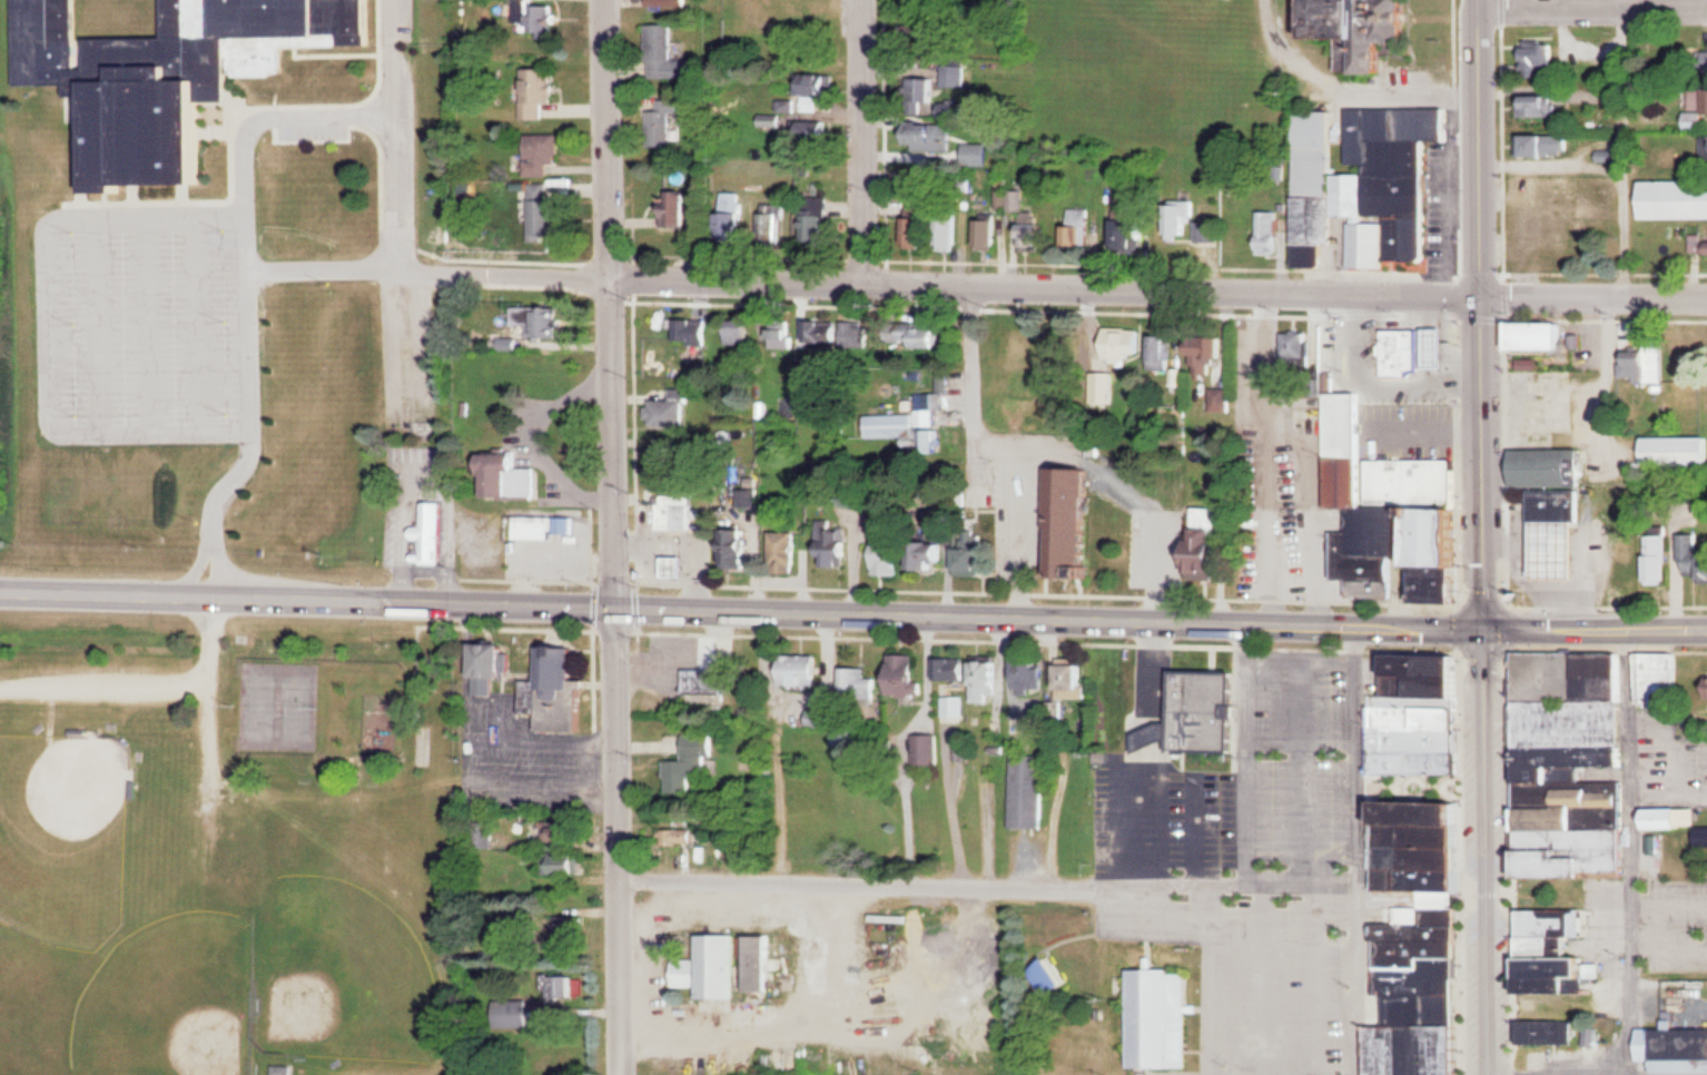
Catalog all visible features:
road: (1622, 2)
road: (1592, 6)
building: (537, 16)
building: (1369, 30)
building: (662, 51)
building: (1540, 56)
building: (169, 70)
building: (821, 82)
road: (1350, 85)
building: (924, 90)
building: (541, 91)
building: (1700, 101)
building: (812, 103)
building: (1541, 107)
road: (318, 118)
building: (663, 122)
building: (818, 131)
road: (401, 134)
road: (861, 139)
building: (935, 141)
building: (1550, 146)
building: (1705, 150)
building: (544, 154)
building: (978, 154)
building: (1365, 185)
building: (1674, 199)
building: (1561, 203)
building: (681, 210)
building: (543, 211)
building: (736, 219)
building: (1182, 219)
building: (817, 220)
building: (776, 224)
building: (919, 227)
building: (1083, 227)
building: (951, 231)
building: (989, 231)
building: (1134, 231)
building: (1270, 231)
building: (1211, 233)
building: (1037, 237)
building: (1699, 245)
road: (943, 280)
road: (1595, 292)
road: (613, 303)
road: (1483, 312)
building: (539, 320)
building: (693, 332)
building: (742, 332)
building: (848, 333)
road: (971, 334)
building: (783, 336)
building: (1547, 336)
building: (928, 337)
building: (1127, 343)
building: (1441, 347)
building: (1299, 349)
building: (1163, 352)
building: (1404, 352)
building: (1211, 355)
building: (1645, 363)
building: (1223, 400)
building: (670, 410)
building: (916, 424)
building: (1675, 451)
building: (673, 455)
building: (1552, 467)
building: (513, 476)
building: (1377, 497)
building: (1557, 504)
building: (677, 512)
building: (1075, 524)
building: (539, 527)
building: (431, 531)
building: (1600, 542)
building: (836, 545)
building: (740, 548)
building: (787, 548)
building: (1558, 549)
building: (1211, 553)
building: (1696, 554)
building: (892, 555)
building: (935, 555)
building: (1447, 556)
building: (975, 559)
building: (1641, 560)
building: (680, 565)
road: (307, 599)
road: (1048, 618)
traffic signals: (1483, 624)
road: (1595, 624)
building: (484, 654)
building: (551, 655)
building: (955, 669)
building: (805, 671)
building: (911, 675)
building: (1032, 675)
building: (990, 679)
building: (1076, 680)
building: (1660, 680)
building: (709, 681)
building: (860, 683)
park: (260, 704)
park: (299, 704)
building: (1207, 711)
building: (1419, 717)
building: (929, 750)
road: (464, 755)
parking lot: (522, 755)
building: (1575, 765)
building: (684, 772)
building: (1029, 791)
building: (1677, 820)
building: (571, 830)
park: (65, 835)
road: (616, 841)
road: (1628, 848)
road: (1486, 849)
road: (1353, 850)
park: (223, 855)
building: (565, 862)
road: (985, 876)
building: (1423, 941)
building: (1558, 953)
building: (761, 961)
building: (722, 964)
park: (339, 970)
building: (689, 975)
building: (1054, 975)
building: (560, 987)
park: (172, 999)
building: (1162, 1017)
building: (1550, 1032)
building: (1677, 1049)
building: (284, 1069)
road: (1597, 1072)

